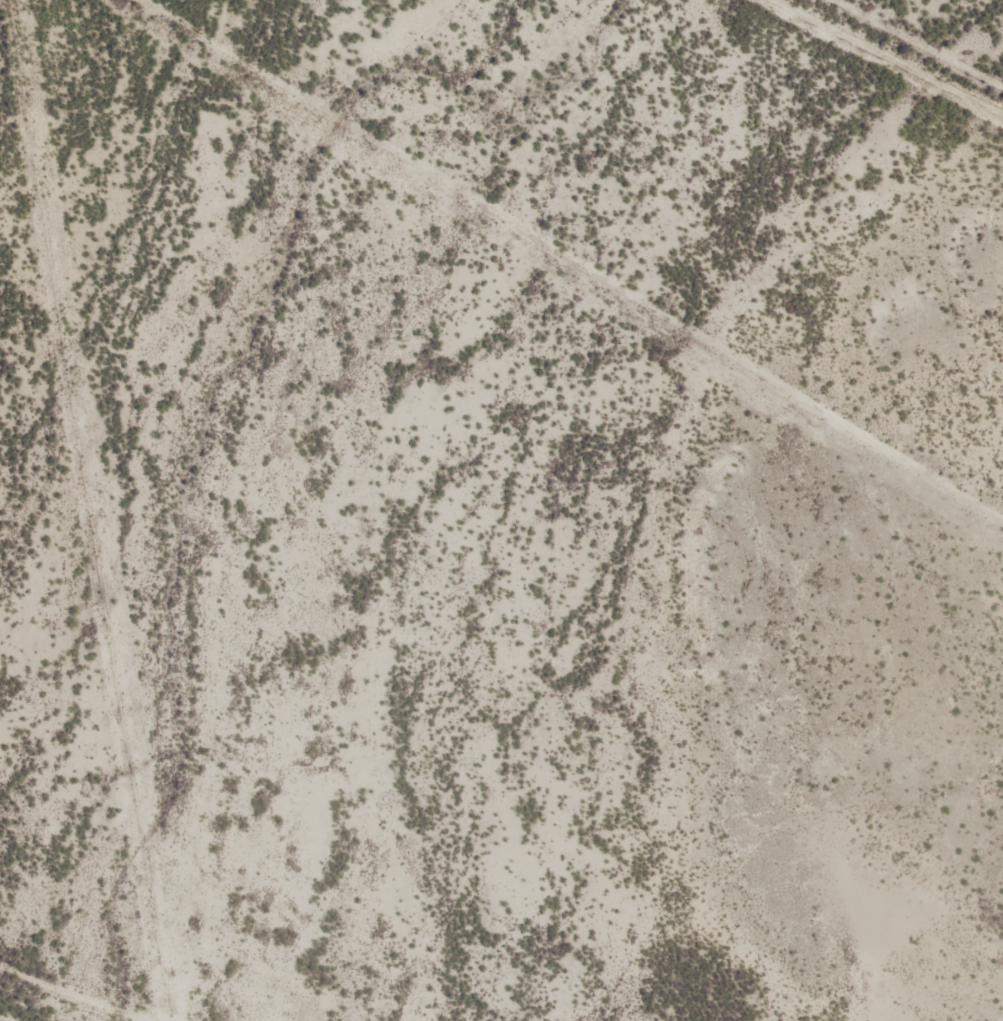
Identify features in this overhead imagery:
road: (895, 55)

